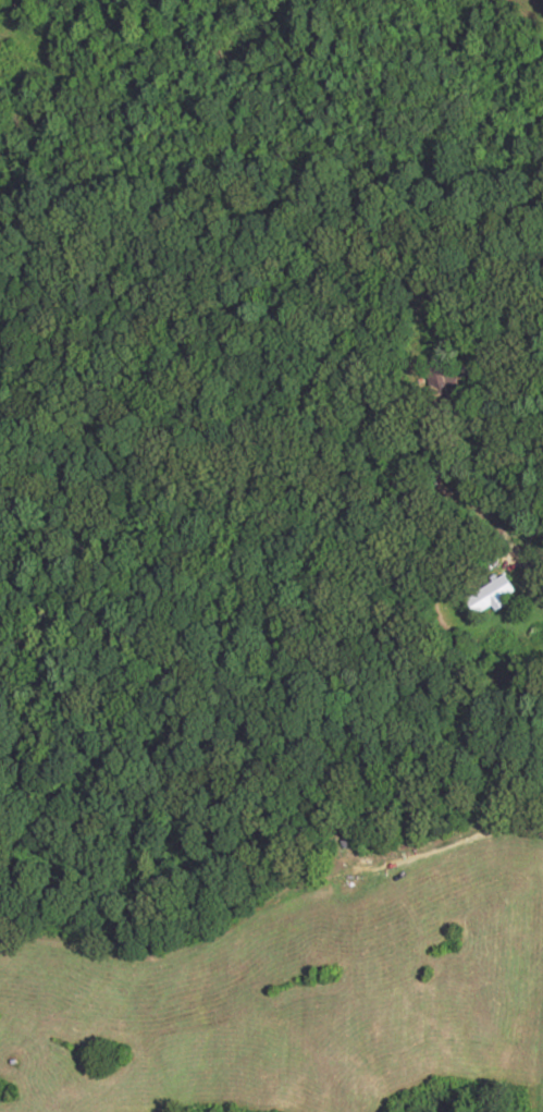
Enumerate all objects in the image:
road: (532, 574)
building: (494, 594)

